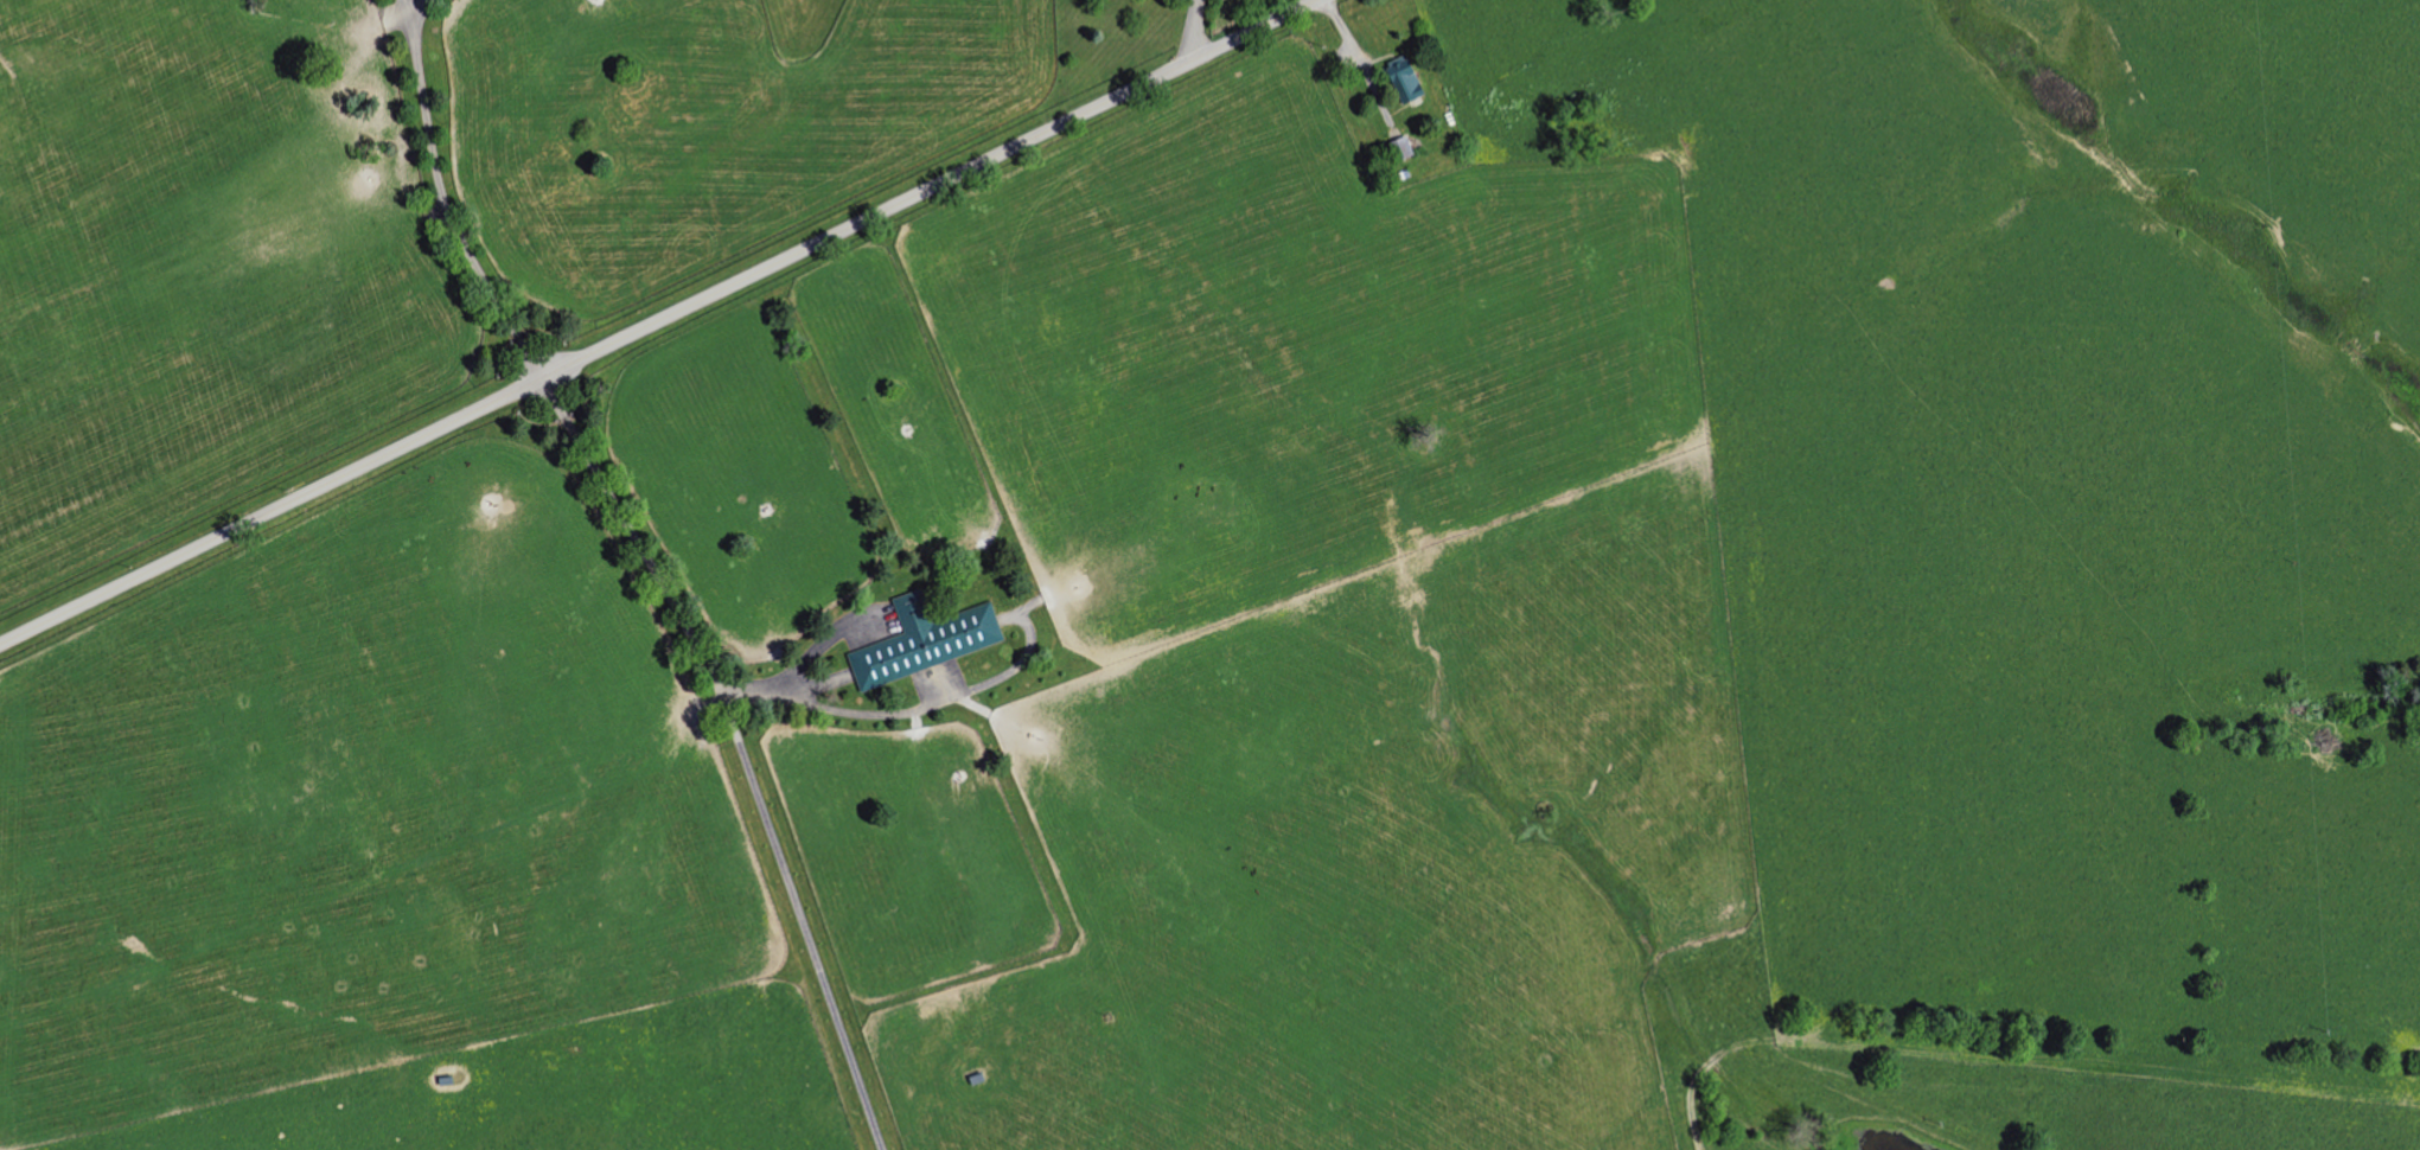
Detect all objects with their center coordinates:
road: (413, 4)
road: (1194, 31)
building: (1405, 149)
road: (441, 200)
road: (659, 321)
road: (1672, 602)
building: (928, 641)
road: (819, 643)
road: (837, 705)
road: (739, 753)

